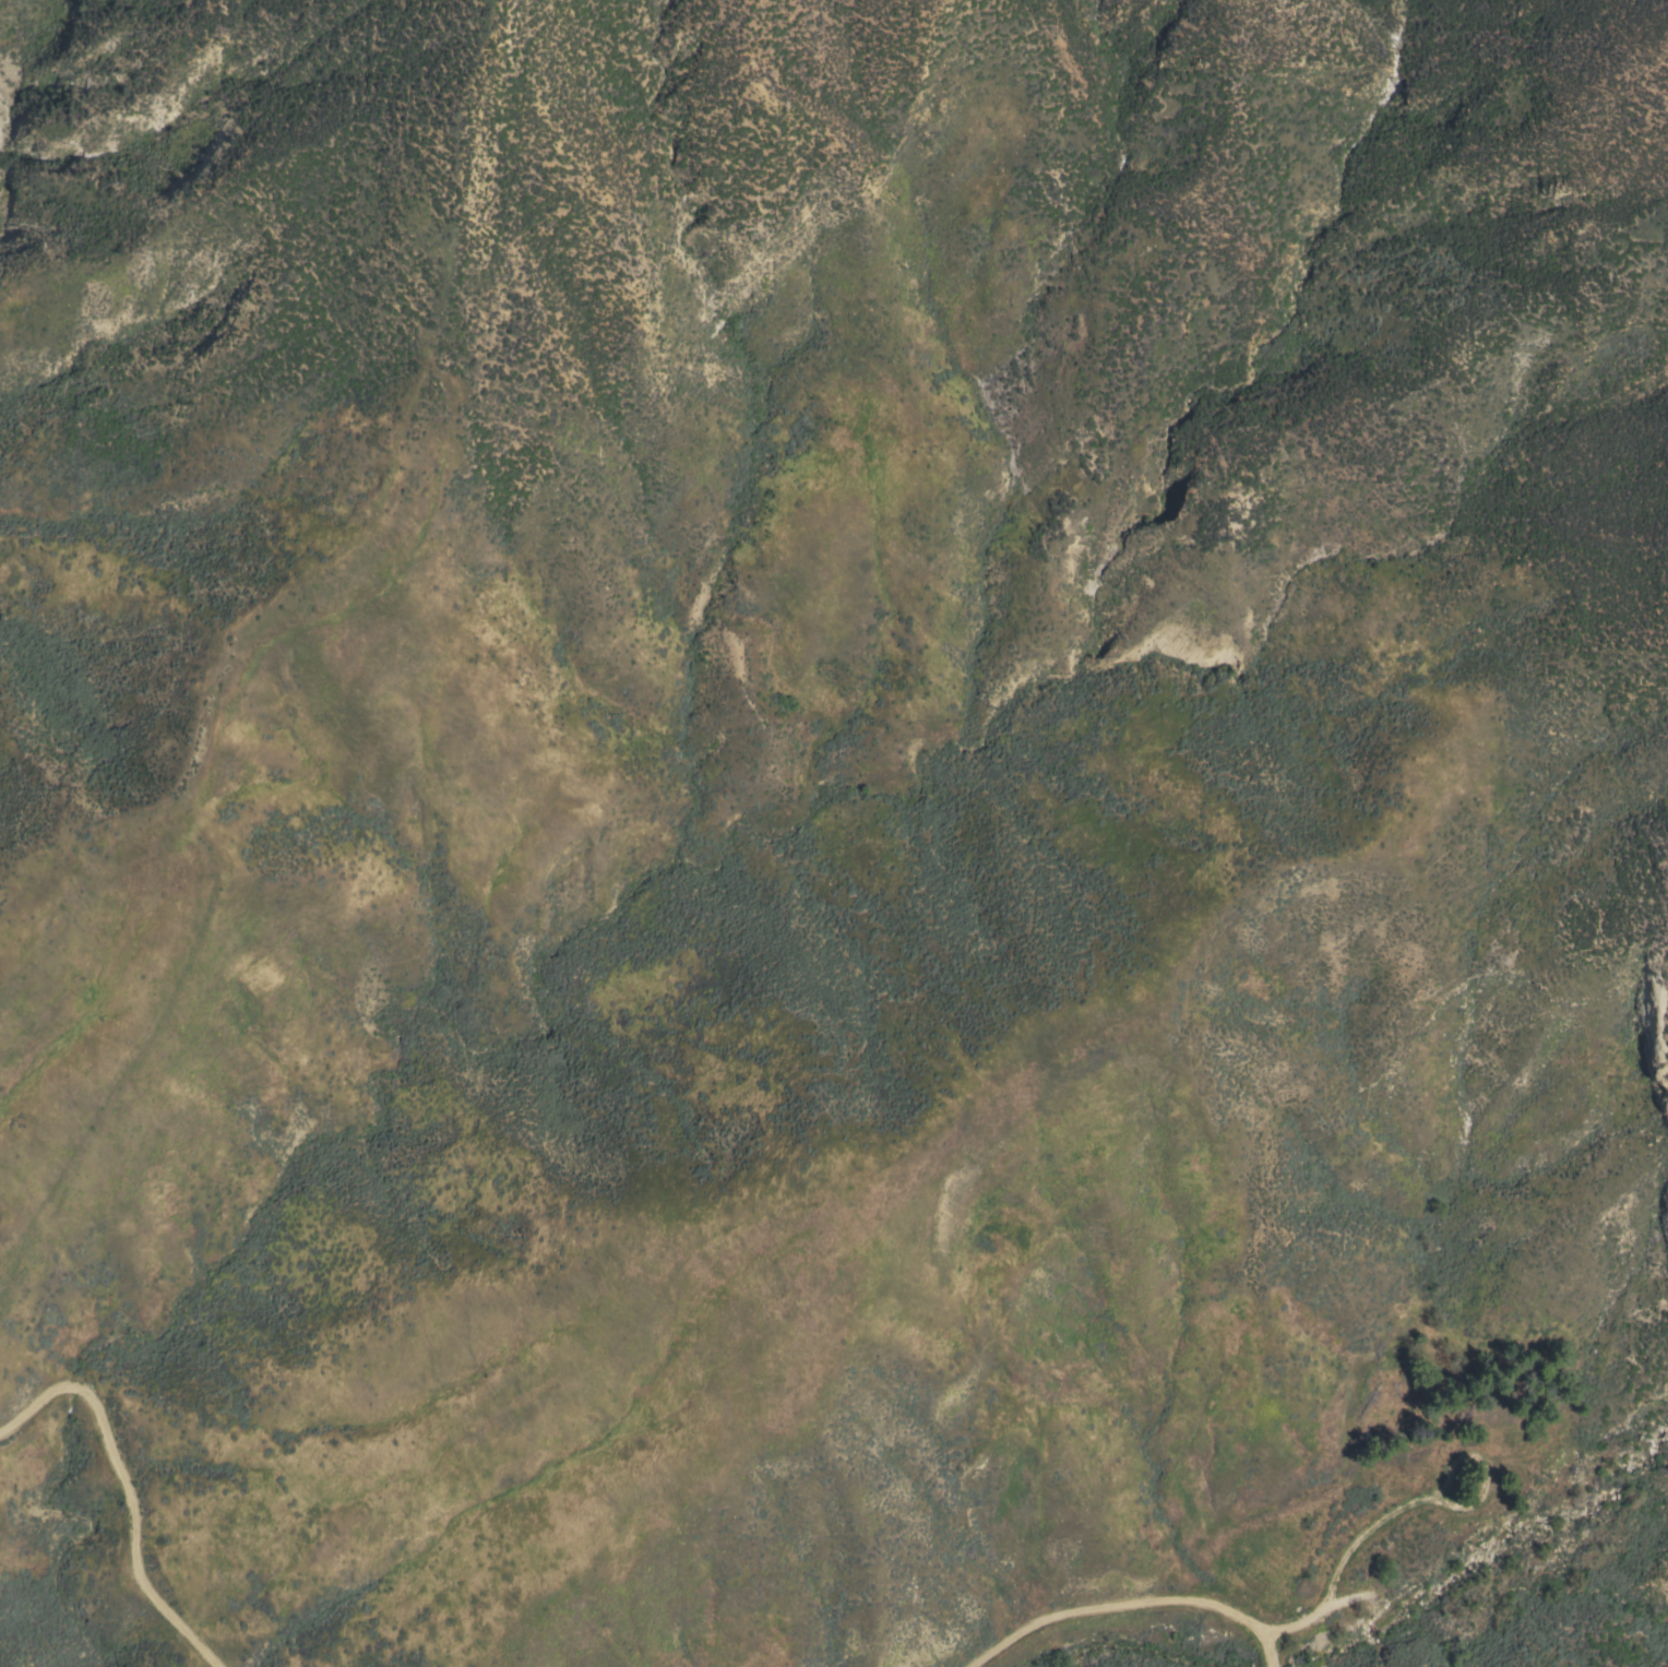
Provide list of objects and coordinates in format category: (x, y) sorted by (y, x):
park: (549, 1468)
road: (120, 1493)
road: (1127, 1600)

